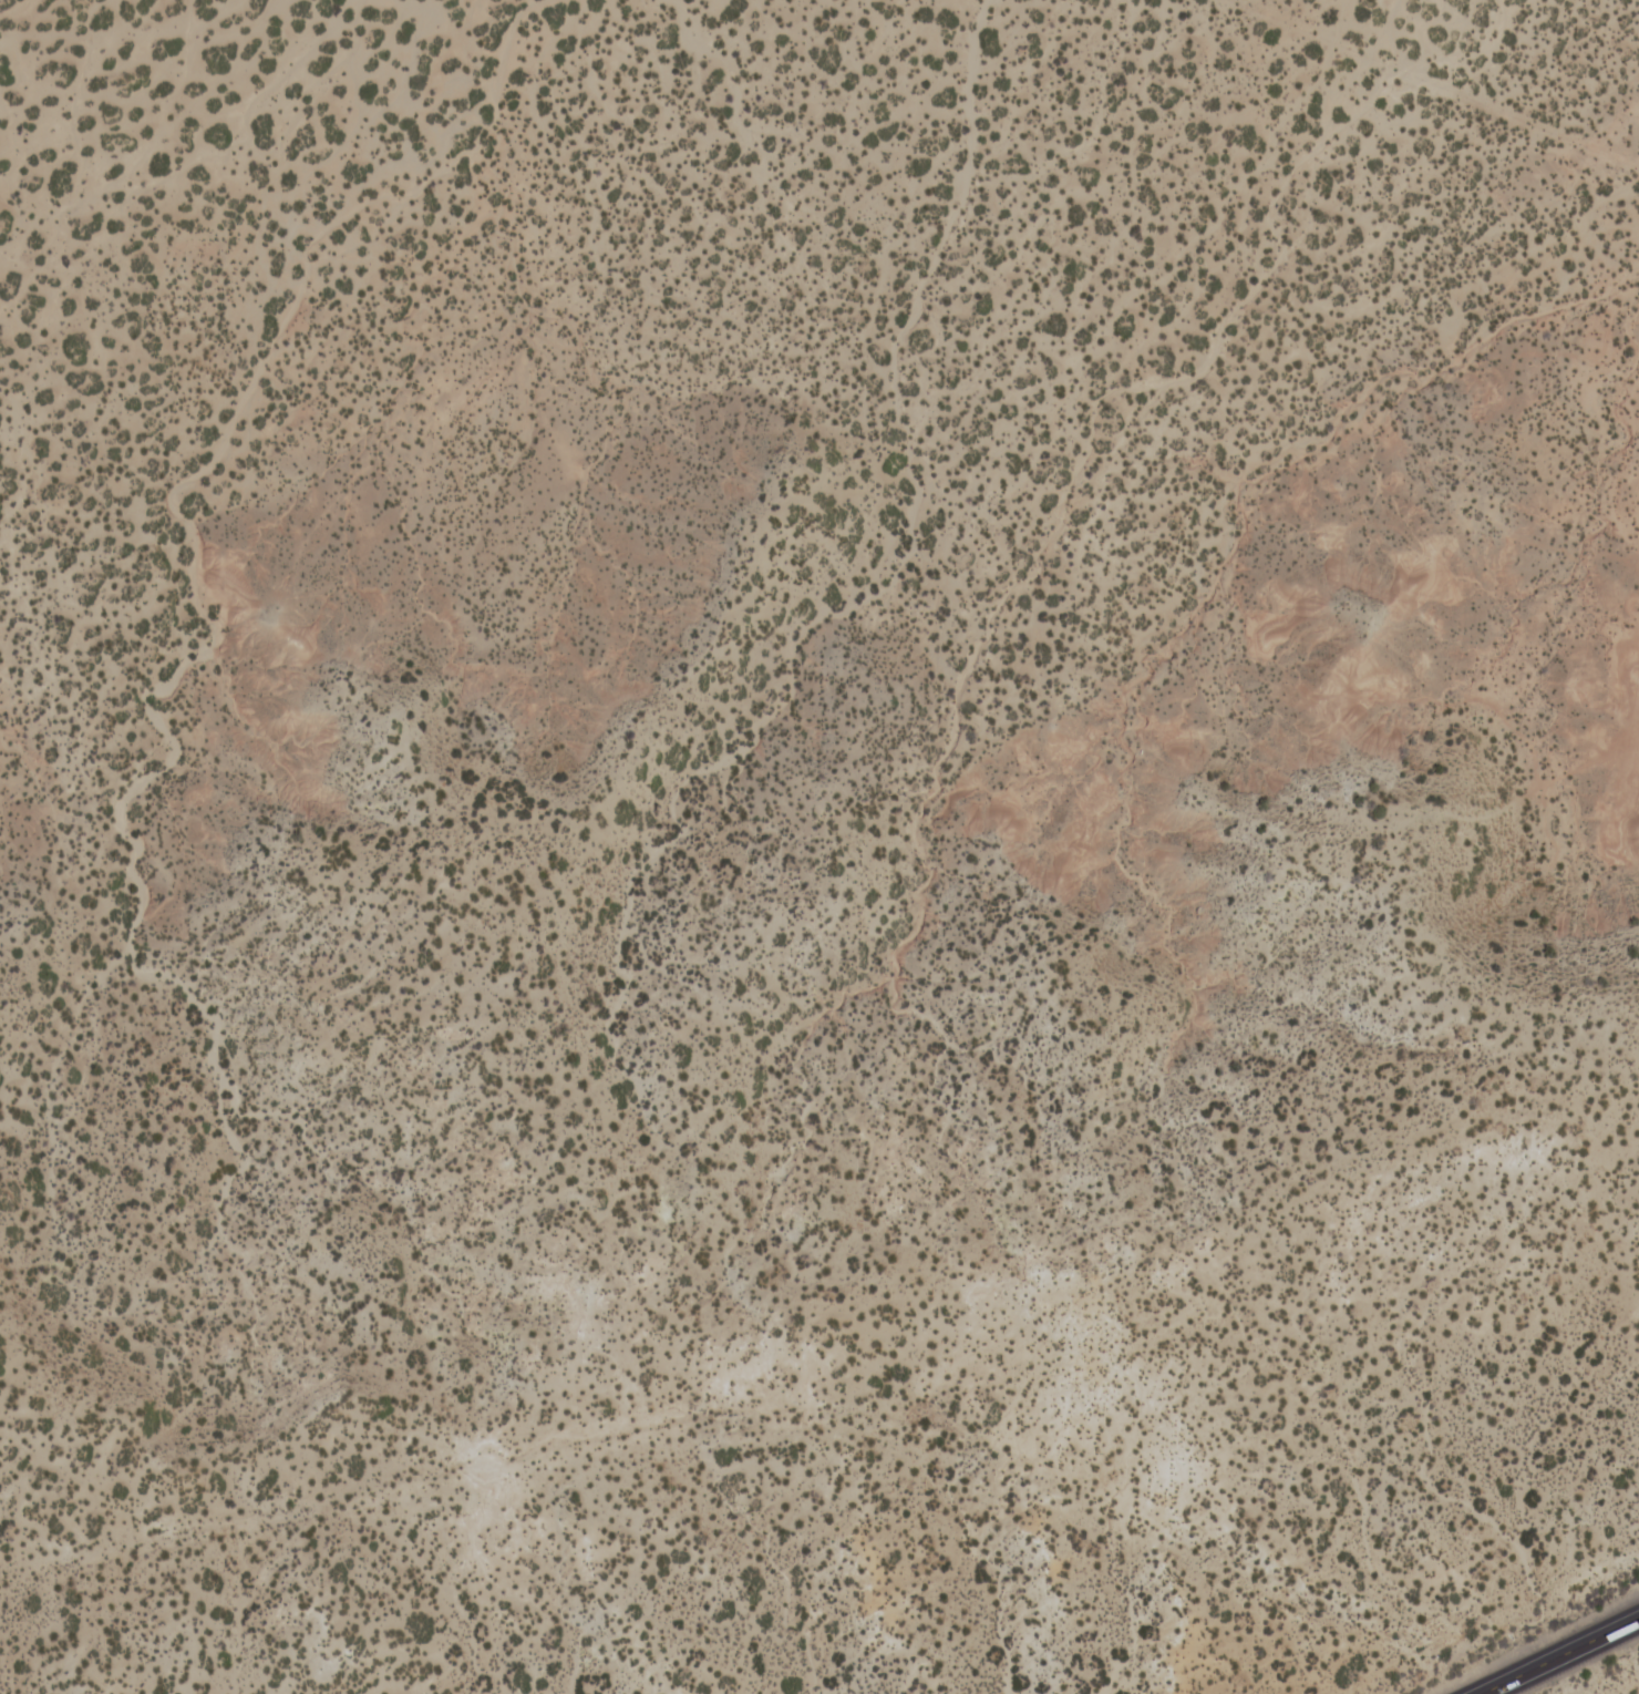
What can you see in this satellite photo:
airport: (1504, 57)
road: (1553, 1652)

